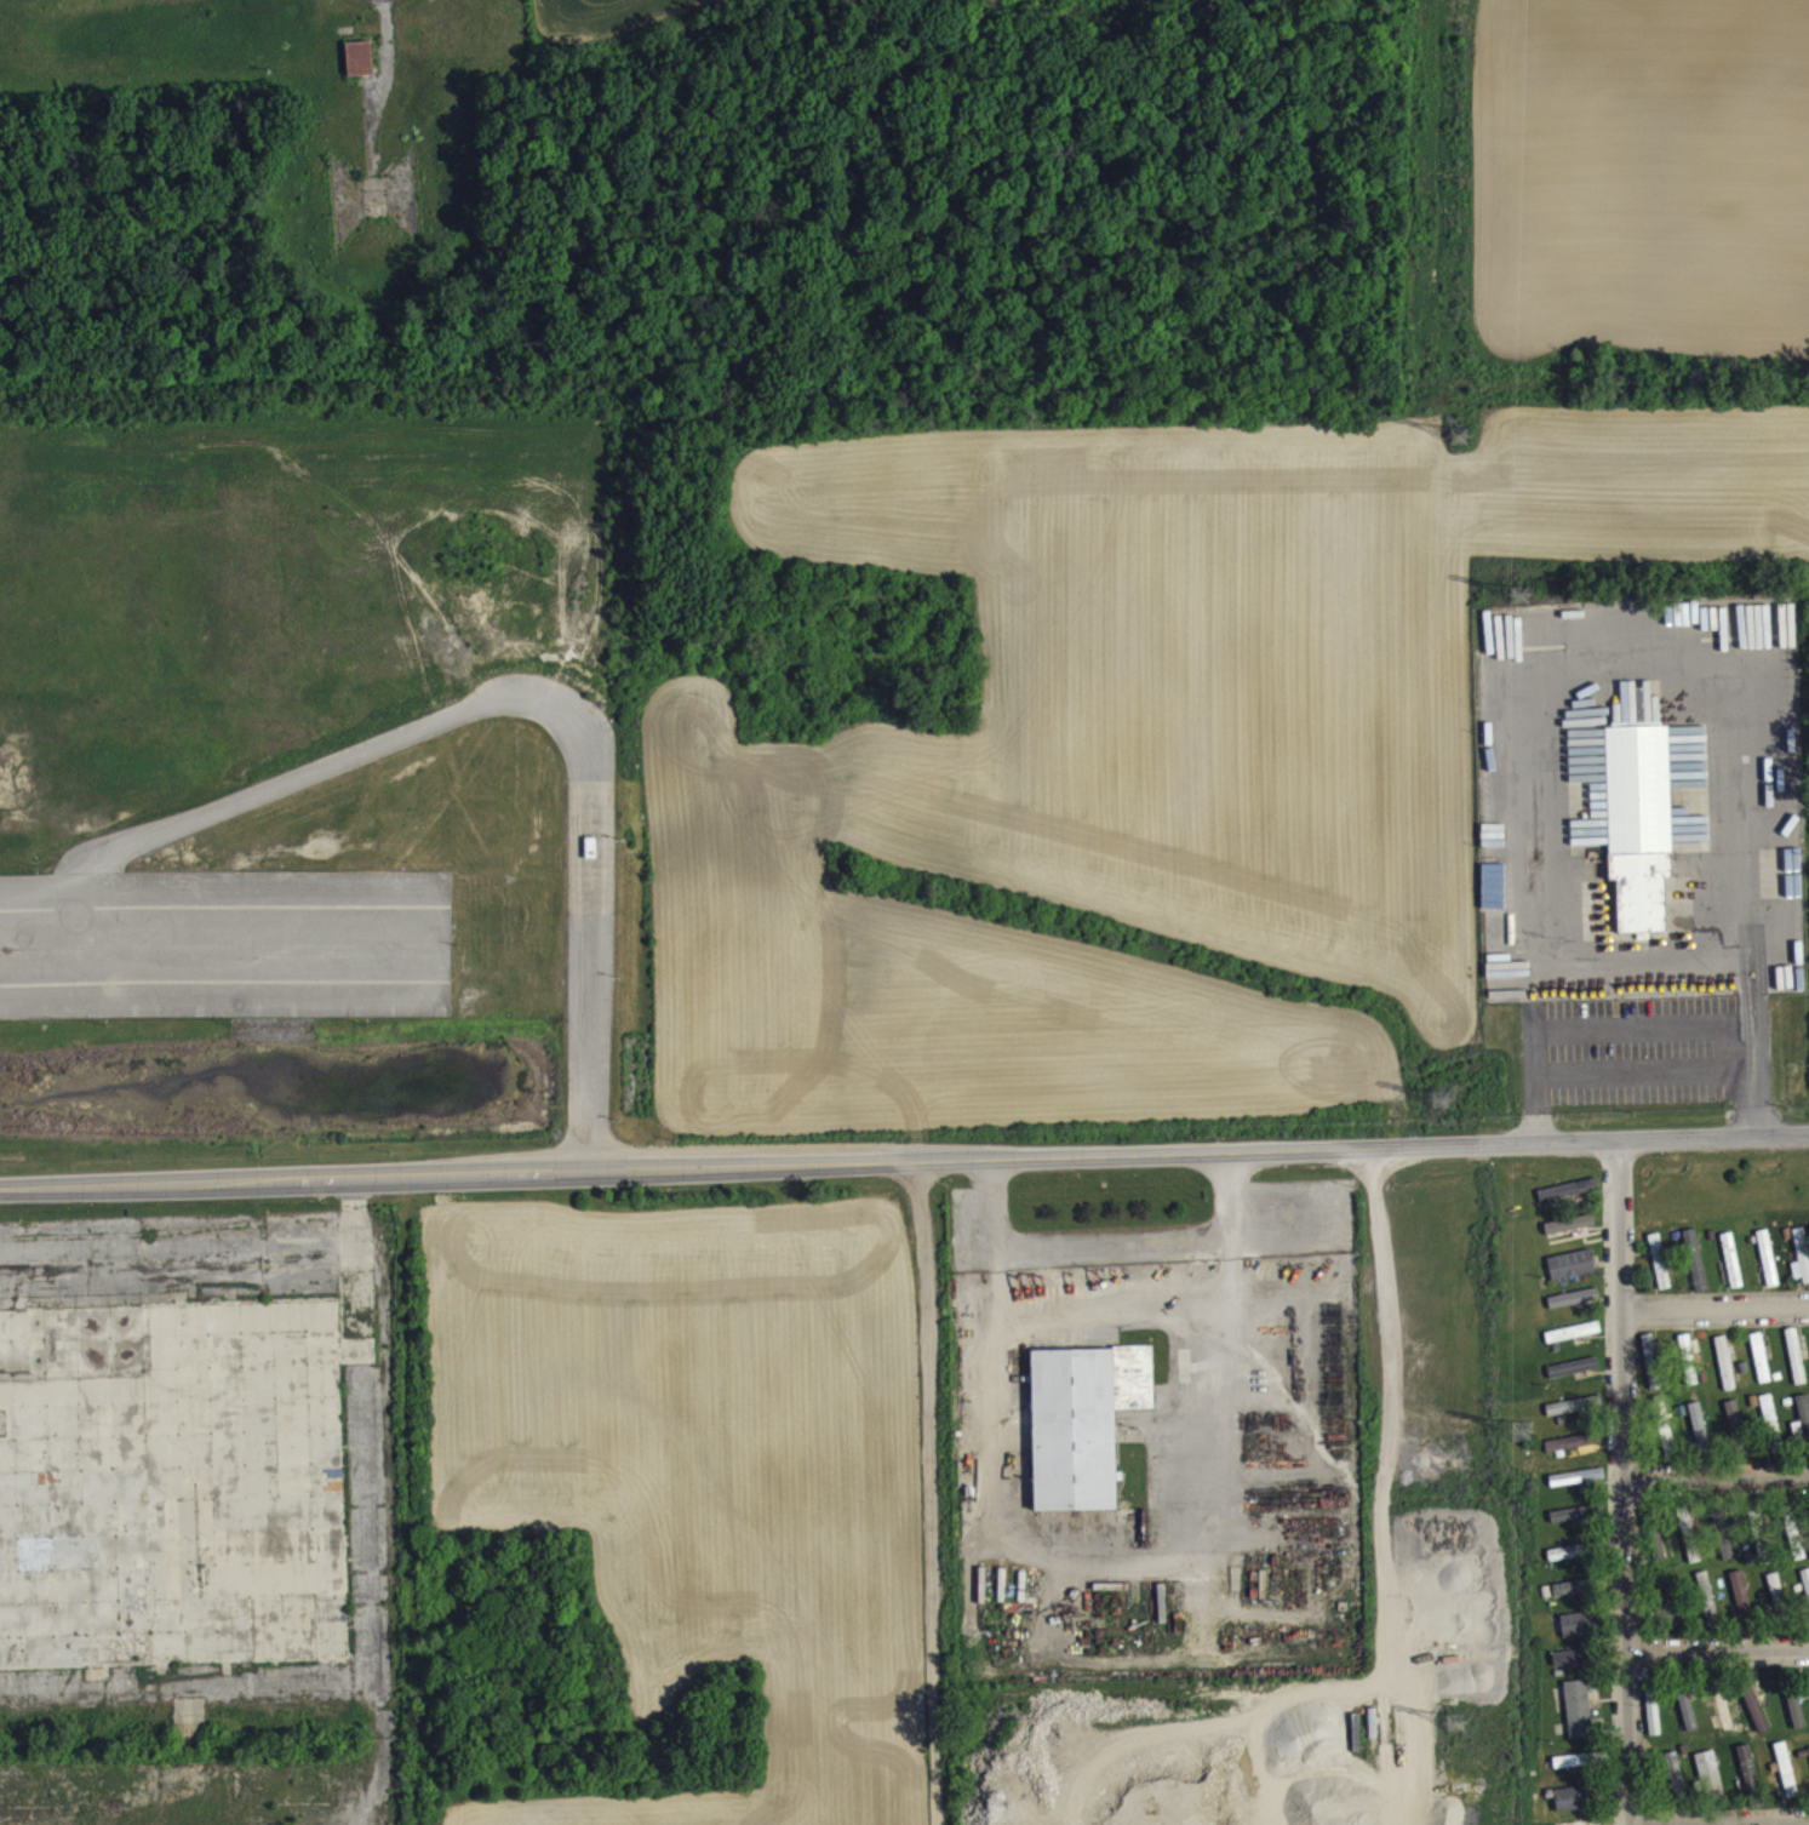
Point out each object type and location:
building: (361, 68)
road: (1559, 674)
road: (485, 717)
building: (1638, 822)
parking lot: (225, 944)
road: (200, 967)
road: (1658, 976)
road: (1757, 992)
road: (1750, 1032)
road: (1764, 1032)
road: (1649, 1054)
power tower: (1447, 1091)
road: (1761, 1093)
road: (904, 1157)
road: (1224, 1190)
road: (991, 1198)
building: (1570, 1201)
building: (1570, 1235)
road: (1111, 1236)
building: (1802, 1266)
building: (1769, 1269)
building: (1733, 1270)
building: (1660, 1271)
building: (1696, 1271)
building: (1573, 1275)
road: (1714, 1297)
building: (1574, 1343)
building: (1690, 1360)
building: (1797, 1367)
building: (1762, 1368)
building: (1651, 1372)
building: (1727, 1374)
building: (1575, 1415)
building: (1082, 1418)
building: (1734, 1425)
power tower: (1519, 1426)
building: (1803, 1429)
building: (1771, 1434)
building: (1699, 1437)
building: (1666, 1447)
building: (1574, 1453)
road: (1716, 1466)
road: (1624, 1482)
building: (1578, 1487)
building: (1570, 1524)
building: (1793, 1537)
building: (1689, 1545)
building: (1659, 1557)
road: (1104, 1560)
building: (1568, 1563)
building: (1807, 1591)
building: (1573, 1597)
building: (1777, 1602)
building: (1742, 1606)
building: (1706, 1608)
building: (1670, 1611)
building: (1579, 1635)
road: (1718, 1641)
building: (1573, 1667)
power tower: (1464, 1716)
building: (1756, 1718)
building: (1579, 1720)
building: (1722, 1720)
building: (1654, 1721)
building: (1689, 1721)
building: (1797, 1721)
building: (1574, 1773)
building: (1750, 1780)
building: (1787, 1780)
building: (1711, 1785)
building: (1676, 1786)
building: (1574, 1808)
road: (1719, 1809)

